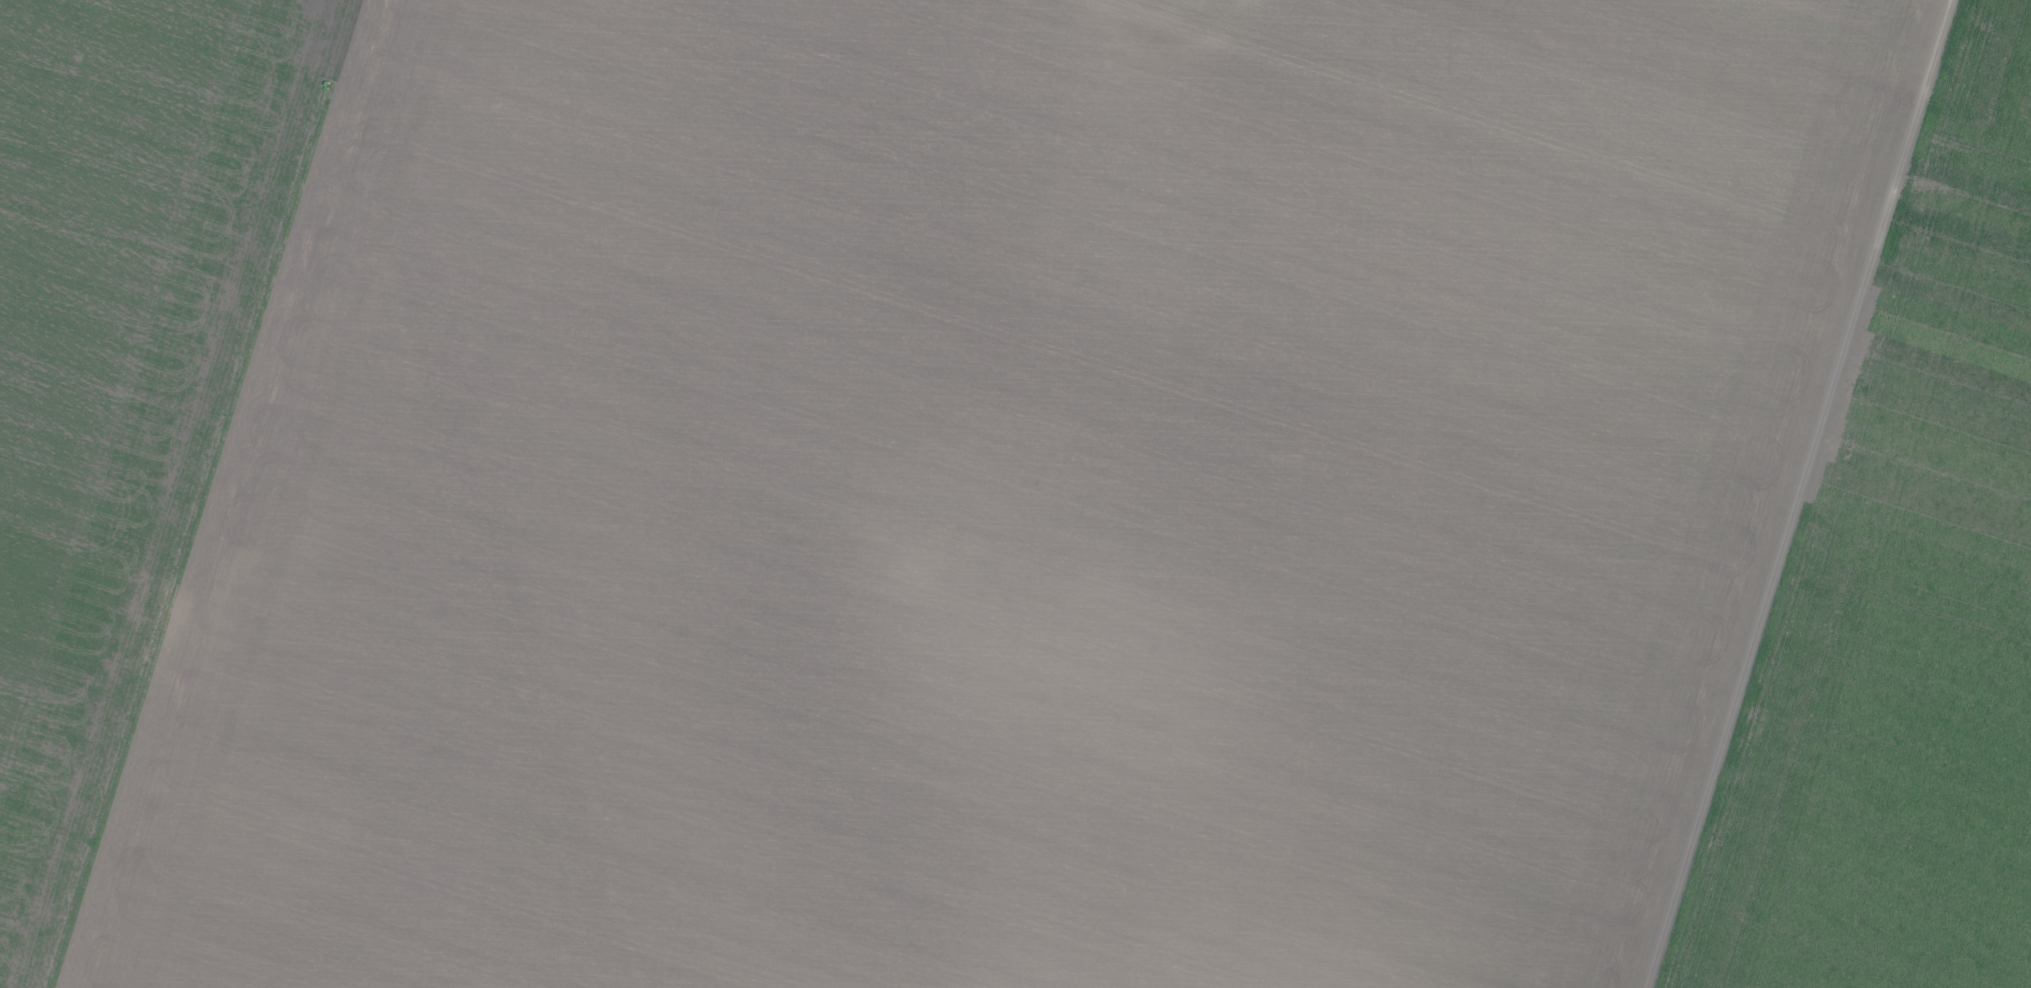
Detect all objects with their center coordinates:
road: (1790, 494)

